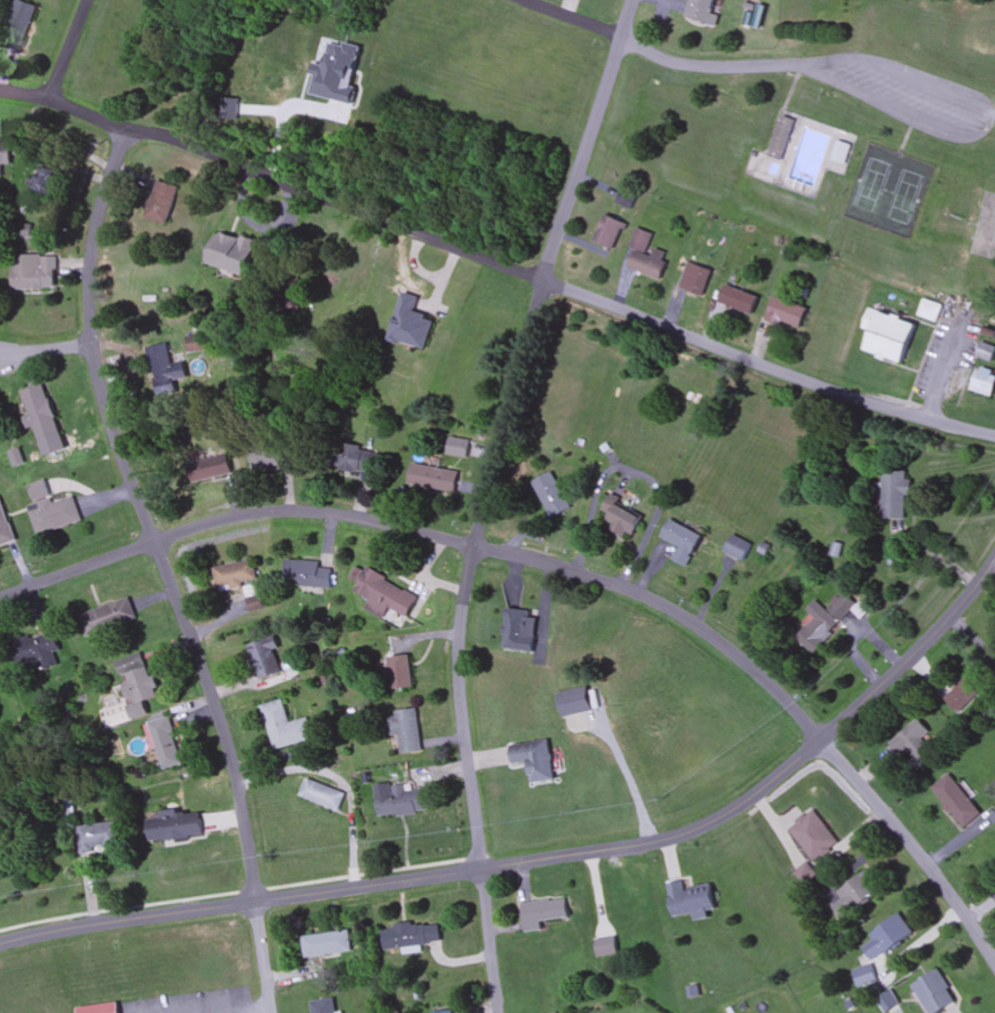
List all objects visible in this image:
building: (703, 10)
road: (631, 19)
building: (18, 24)
road: (69, 50)
road: (666, 57)
road: (981, 119)
building: (782, 138)
building: (5, 155)
building: (839, 157)
building: (46, 179)
park: (889, 190)
building: (161, 201)
road: (254, 225)
park: (985, 227)
building: (610, 233)
building: (230, 252)
building: (647, 256)
road: (496, 264)
building: (34, 272)
building: (703, 282)
building: (746, 304)
building: (931, 310)
building: (788, 314)
building: (409, 323)
building: (897, 341)
road: (46, 349)
building: (987, 352)
building: (163, 370)
building: (985, 382)
building: (39, 413)
building: (455, 447)
building: (266, 455)
building: (354, 459)
building: (207, 468)
building: (431, 478)
building: (896, 493)
building: (550, 494)
building: (50, 510)
road: (478, 516)
building: (622, 517)
building: (5, 528)
building: (683, 541)
building: (738, 547)
road: (159, 570)
road: (570, 571)
building: (233, 573)
building: (308, 573)
building: (383, 595)
building: (250, 597)
building: (104, 617)
building: (825, 620)
building: (34, 649)
building: (263, 657)
building: (399, 672)
building: (132, 690)
building: (966, 691)
building: (578, 701)
building: (282, 726)
building: (405, 729)
building: (164, 742)
building: (916, 743)
building: (537, 759)
building: (319, 795)
building: (957, 801)
building: (404, 802)
building: (175, 826)
building: (100, 835)
building: (814, 835)
road: (548, 860)
building: (807, 872)
building: (857, 894)
building: (692, 899)
building: (546, 912)
building: (411, 937)
building: (888, 937)
building: (326, 944)
building: (607, 946)
building: (865, 976)
building: (935, 993)
building: (886, 1003)
building: (324, 1006)
building: (100, 1008)
road: (204, 1008)
road: (185, 1012)
building: (447, 1012)

